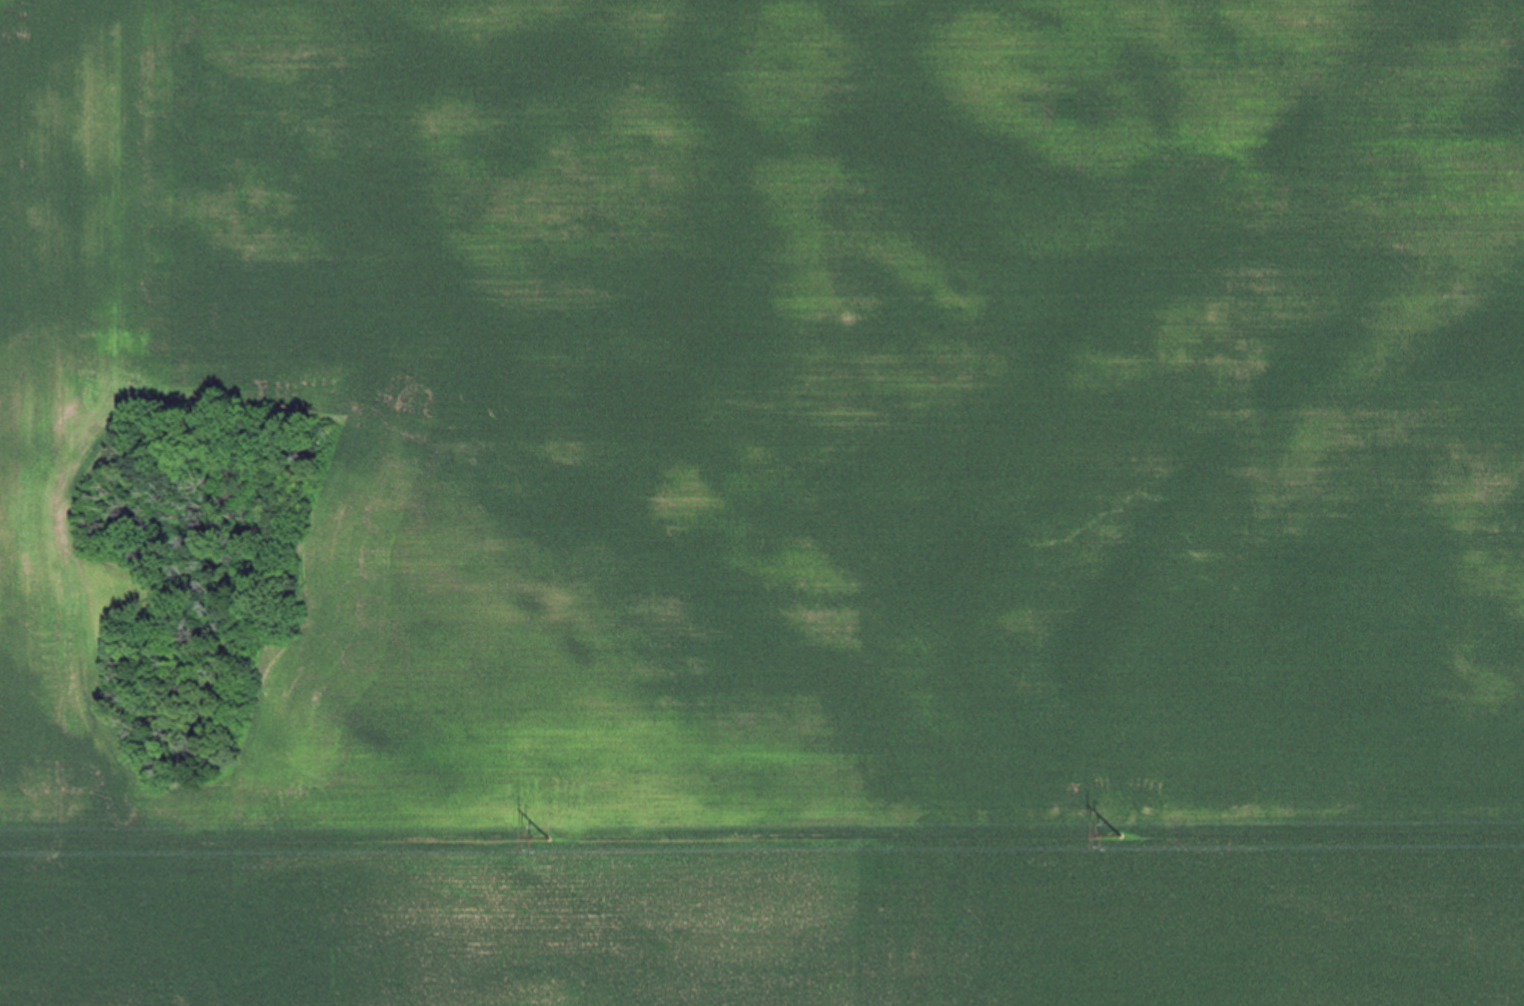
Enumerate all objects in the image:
power tower: (1122, 829)
power tower: (554, 832)

